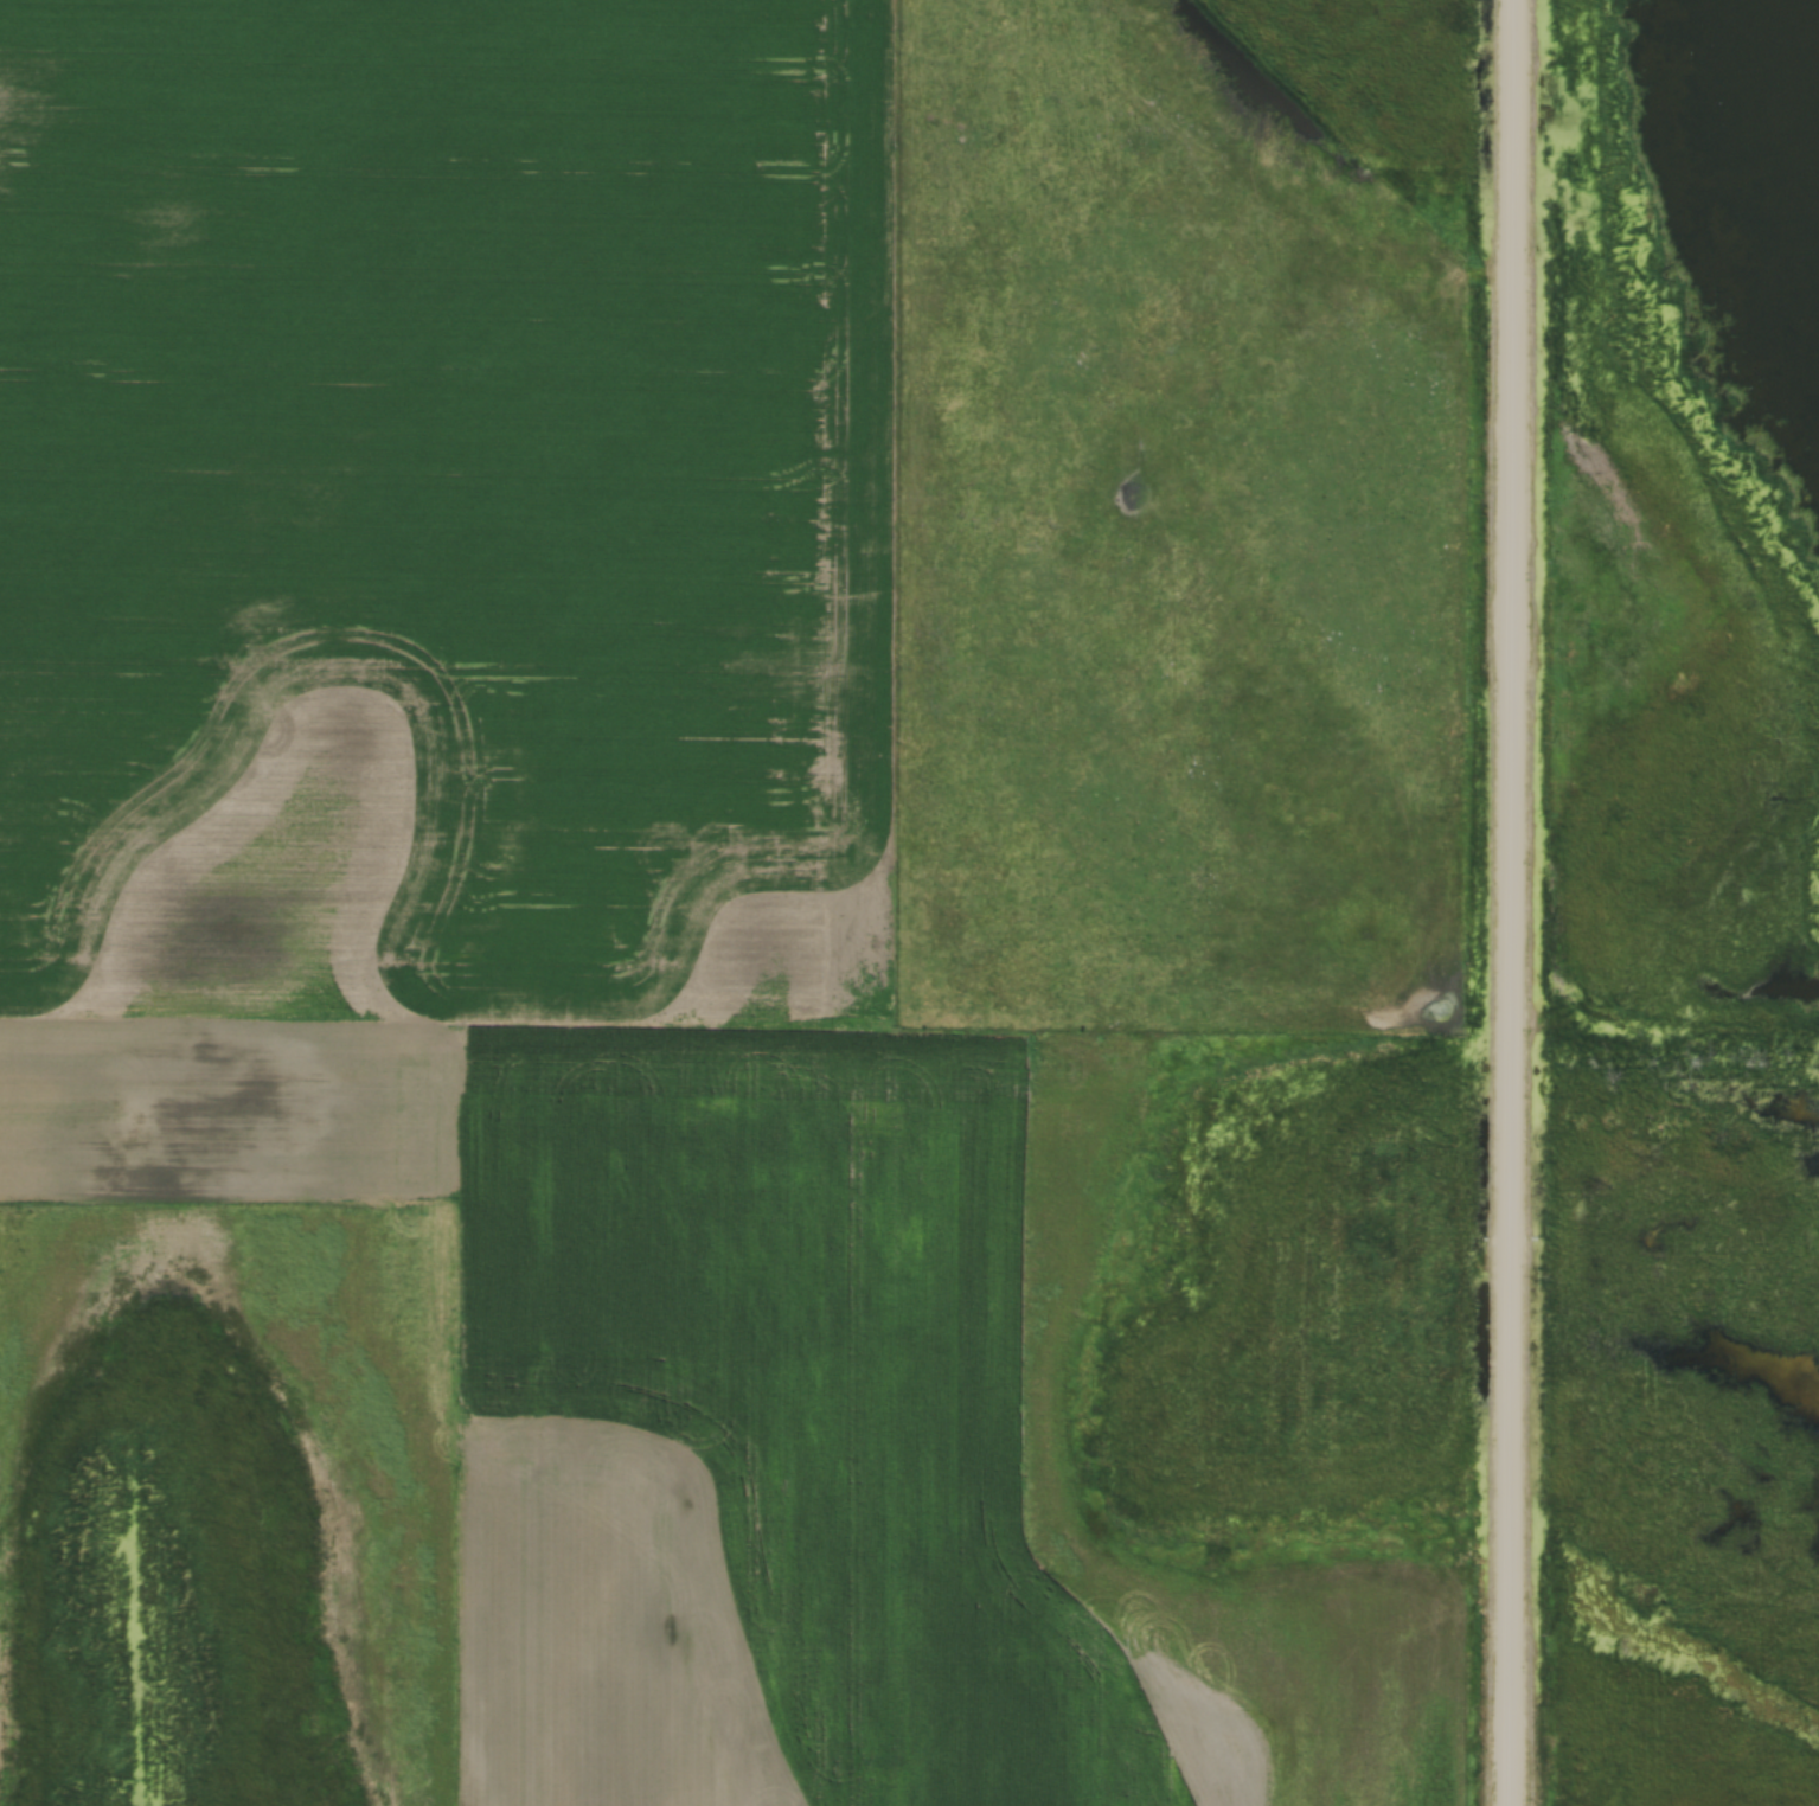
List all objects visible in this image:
road: (1510, 903)

